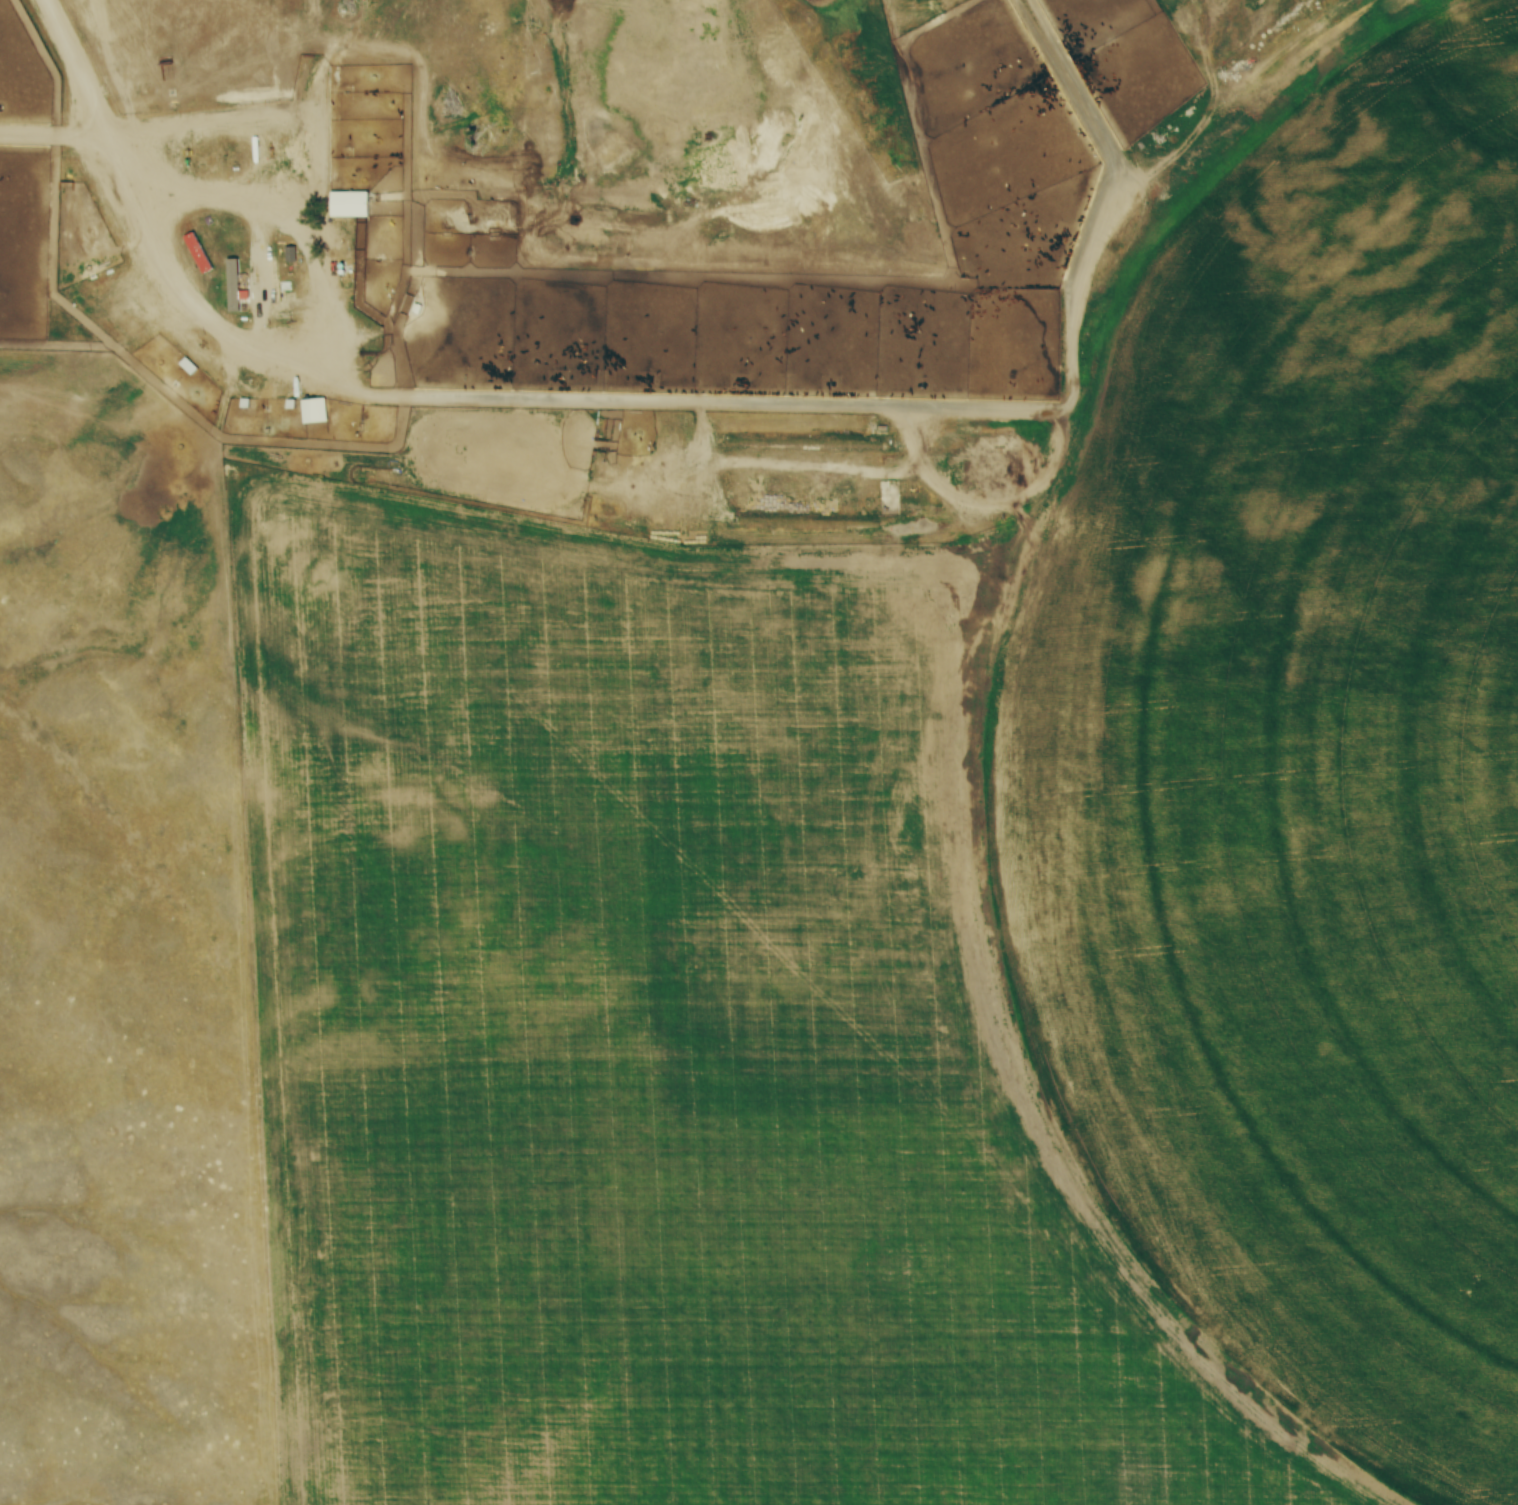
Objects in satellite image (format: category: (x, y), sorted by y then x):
road: (224, 115)
building: (158, 155)
building: (350, 207)
road: (256, 215)
road: (174, 269)
road: (889, 409)
building: (310, 414)
crop: (929, 908)

